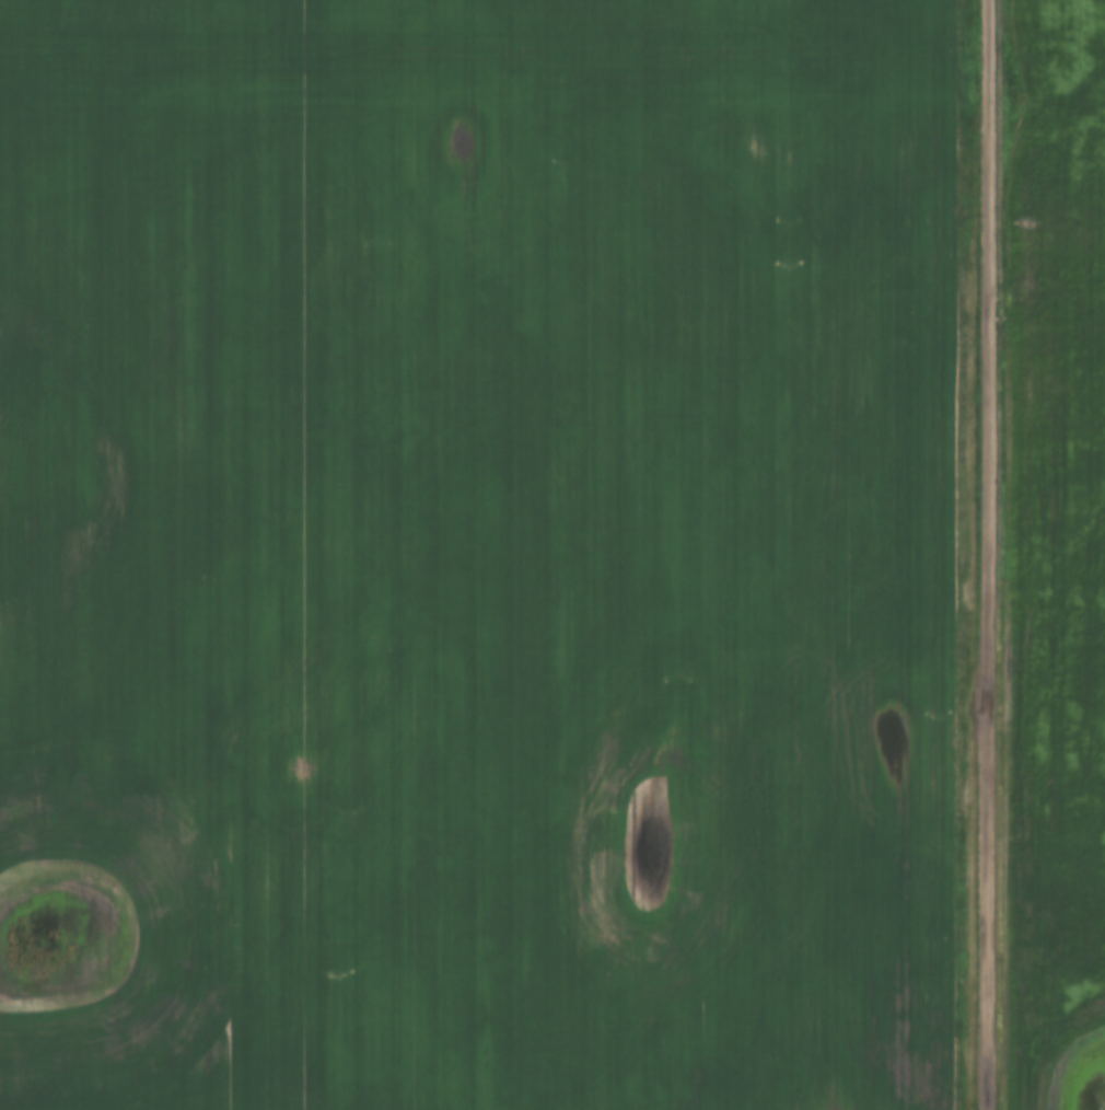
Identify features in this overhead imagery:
road: (987, 555)

